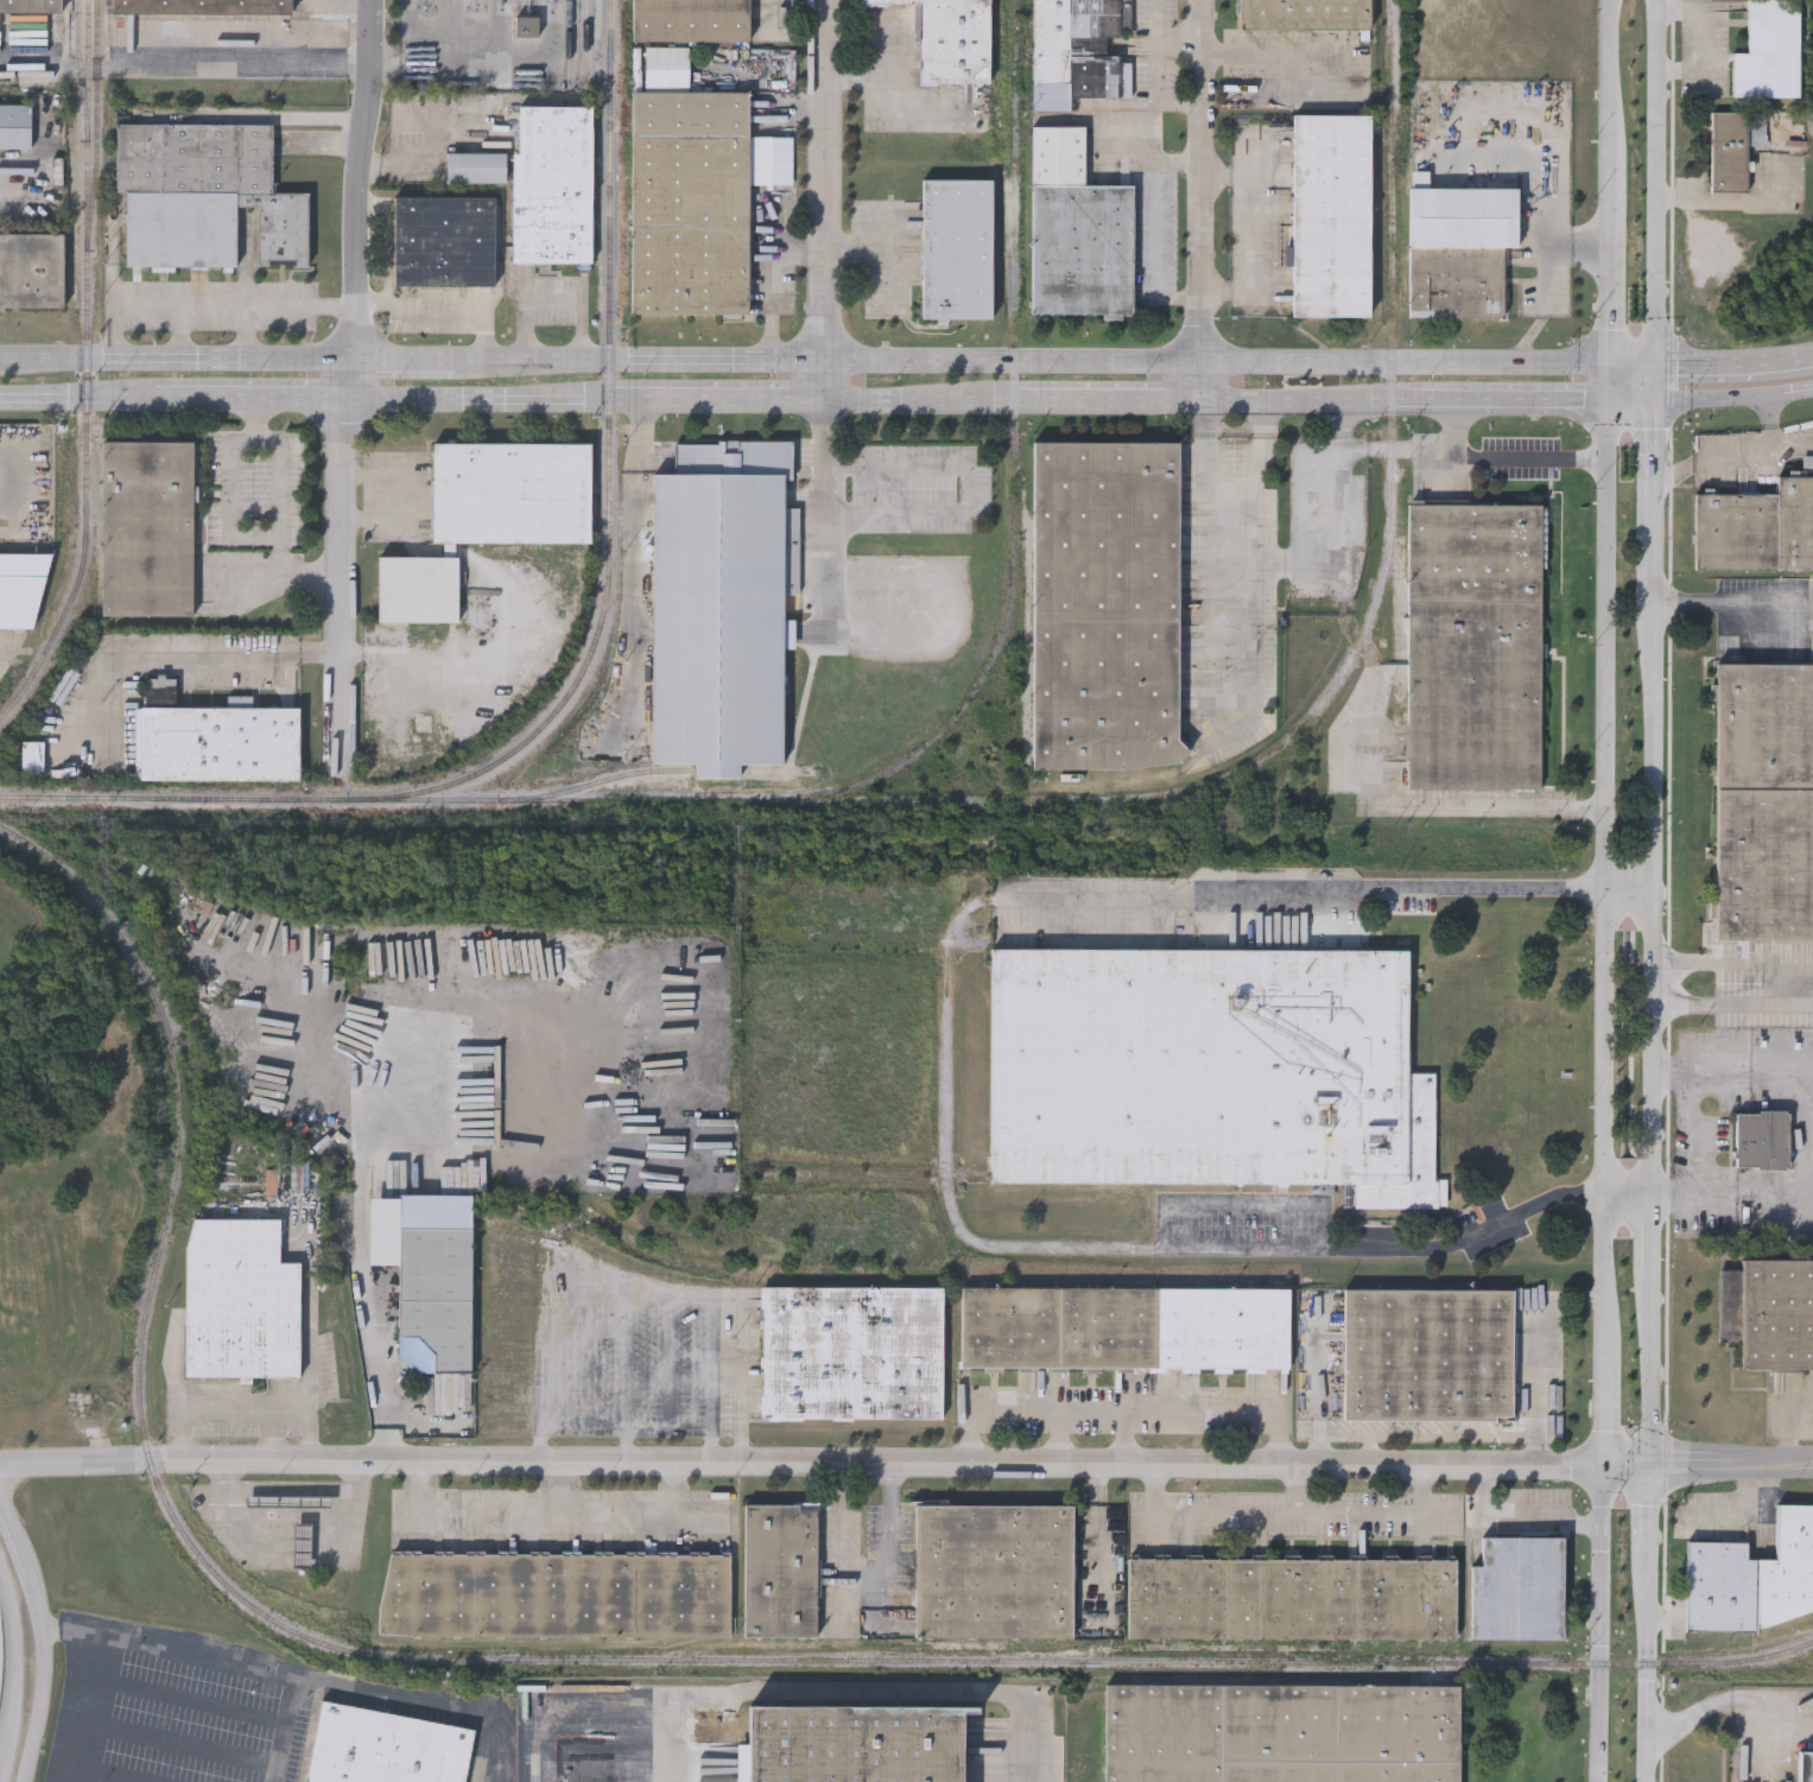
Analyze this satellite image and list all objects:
railway: (418, 4)
railway: (469, 4)
railway: (519, 4)
railway: (436, 5)
railway: (484, 5)
building: (202, 6)
railway: (534, 6)
building: (1279, 8)
building: (38, 17)
building: (690, 19)
building: (526, 25)
road: (1156, 26)
railway: (570, 38)
railway: (587, 39)
building: (952, 39)
building: (1078, 50)
building: (1768, 52)
road: (1276, 53)
road: (184, 58)
railway: (78, 64)
road: (1307, 90)
road: (1158, 91)
road: (281, 115)
railway: (96, 122)
building: (14, 125)
building: (1731, 148)
road: (394, 163)
road: (1175, 163)
road: (1657, 179)
building: (552, 185)
building: (204, 195)
road: (1200, 199)
road: (818, 201)
building: (689, 202)
road: (772, 204)
road: (1736, 208)
building: (1331, 214)
building: (1077, 230)
road: (1159, 230)
road: (1247, 232)
building: (444, 240)
road: (1690, 246)
building: (1459, 247)
building: (956, 248)
road: (794, 251)
road: (869, 252)
building: (32, 269)
road: (885, 279)
road: (1179, 299)
road: (556, 300)
road: (210, 304)
road: (437, 305)
road: (184, 328)
road: (252, 328)
railway: (88, 331)
road: (404, 351)
road: (176, 353)
road: (1054, 354)
road: (1735, 359)
traffic signals: (1611, 360)
traffic signals: (1657, 361)
road: (1656, 381)
road: (346, 394)
road: (80, 395)
road: (1733, 397)
road: (252, 398)
road: (1438, 399)
road: (1538, 399)
road: (1306, 400)
traffic signals: (1610, 400)
road: (1633, 400)
road: (477, 401)
traffic signals: (1655, 401)
road: (711, 402)
road: (912, 402)
road: (1107, 402)
road: (1770, 424)
road: (1339, 426)
road: (1209, 439)
road: (1261, 443)
road: (1503, 454)
road: (1732, 457)
road: (1314, 467)
road: (4, 484)
road: (970, 489)
building: (508, 492)
road: (412, 497)
road: (1654, 501)
road: (1245, 514)
road: (825, 519)
building: (14, 524)
building: (148, 528)
building: (1756, 528)
road: (235, 539)
building: (1473, 554)
road: (633, 567)
road: (294, 577)
building: (20, 588)
building: (418, 590)
road: (1733, 602)
building: (1105, 604)
building: (720, 605)
railway: (1026, 649)
railway: (591, 651)
road: (322, 652)
road: (166, 654)
road: (1250, 668)
railway: (984, 673)
railway: (24, 687)
building: (1473, 698)
building: (214, 741)
building: (33, 759)
railway: (661, 769)
railway: (570, 798)
railway: (797, 800)
building: (1763, 803)
road: (1482, 810)
road: (1628, 887)
road: (1602, 890)
road: (1655, 898)
railway: (107, 915)
road: (957, 945)
road: (1777, 981)
building: (1209, 1071)
road: (1698, 1136)
building: (1760, 1140)
road: (1491, 1228)
road: (1652, 1236)
road: (361, 1279)
road: (632, 1286)
building: (425, 1289)
building: (239, 1304)
building: (1768, 1314)
building: (1123, 1330)
building: (851, 1355)
building: (1427, 1356)
road: (1653, 1369)
road: (1319, 1370)
road: (628, 1374)
road: (711, 1377)
road: (246, 1408)
road: (1123, 1408)
road: (1800, 1408)
road: (273, 1434)
road: (1786, 1434)
road: (1124, 1435)
road: (1409, 1435)
road: (1528, 1435)
road: (1318, 1448)
road: (1371, 1448)
road: (1732, 1460)
road: (825, 1461)
traffic signals: (1606, 1461)
traffic signals: (1653, 1461)
road: (571, 1485)
road: (1298, 1488)
road: (1750, 1508)
road: (554, 1510)
road: (1652, 1513)
road: (1289, 1514)
road: (286, 1518)
road: (1516, 1522)
road: (889, 1531)
road: (19, 1536)
road: (848, 1547)
building: (779, 1571)
building: (991, 1572)
building: (1750, 1577)
building: (1516, 1588)
building: (554, 1596)
building: (1291, 1599)
railway: (1235, 1645)
railway: (724, 1660)
road: (15, 1666)
road: (304, 1673)
road: (1649, 1673)
road: (42, 1679)
road: (860, 1691)
road: (1733, 1697)
road: (190, 1698)
road: (94, 1706)
road: (284, 1726)
building: (1279, 1732)
building: (855, 1743)
road: (185, 1745)
building: (385, 1748)
building: (1805, 1765)
road: (118, 1775)

